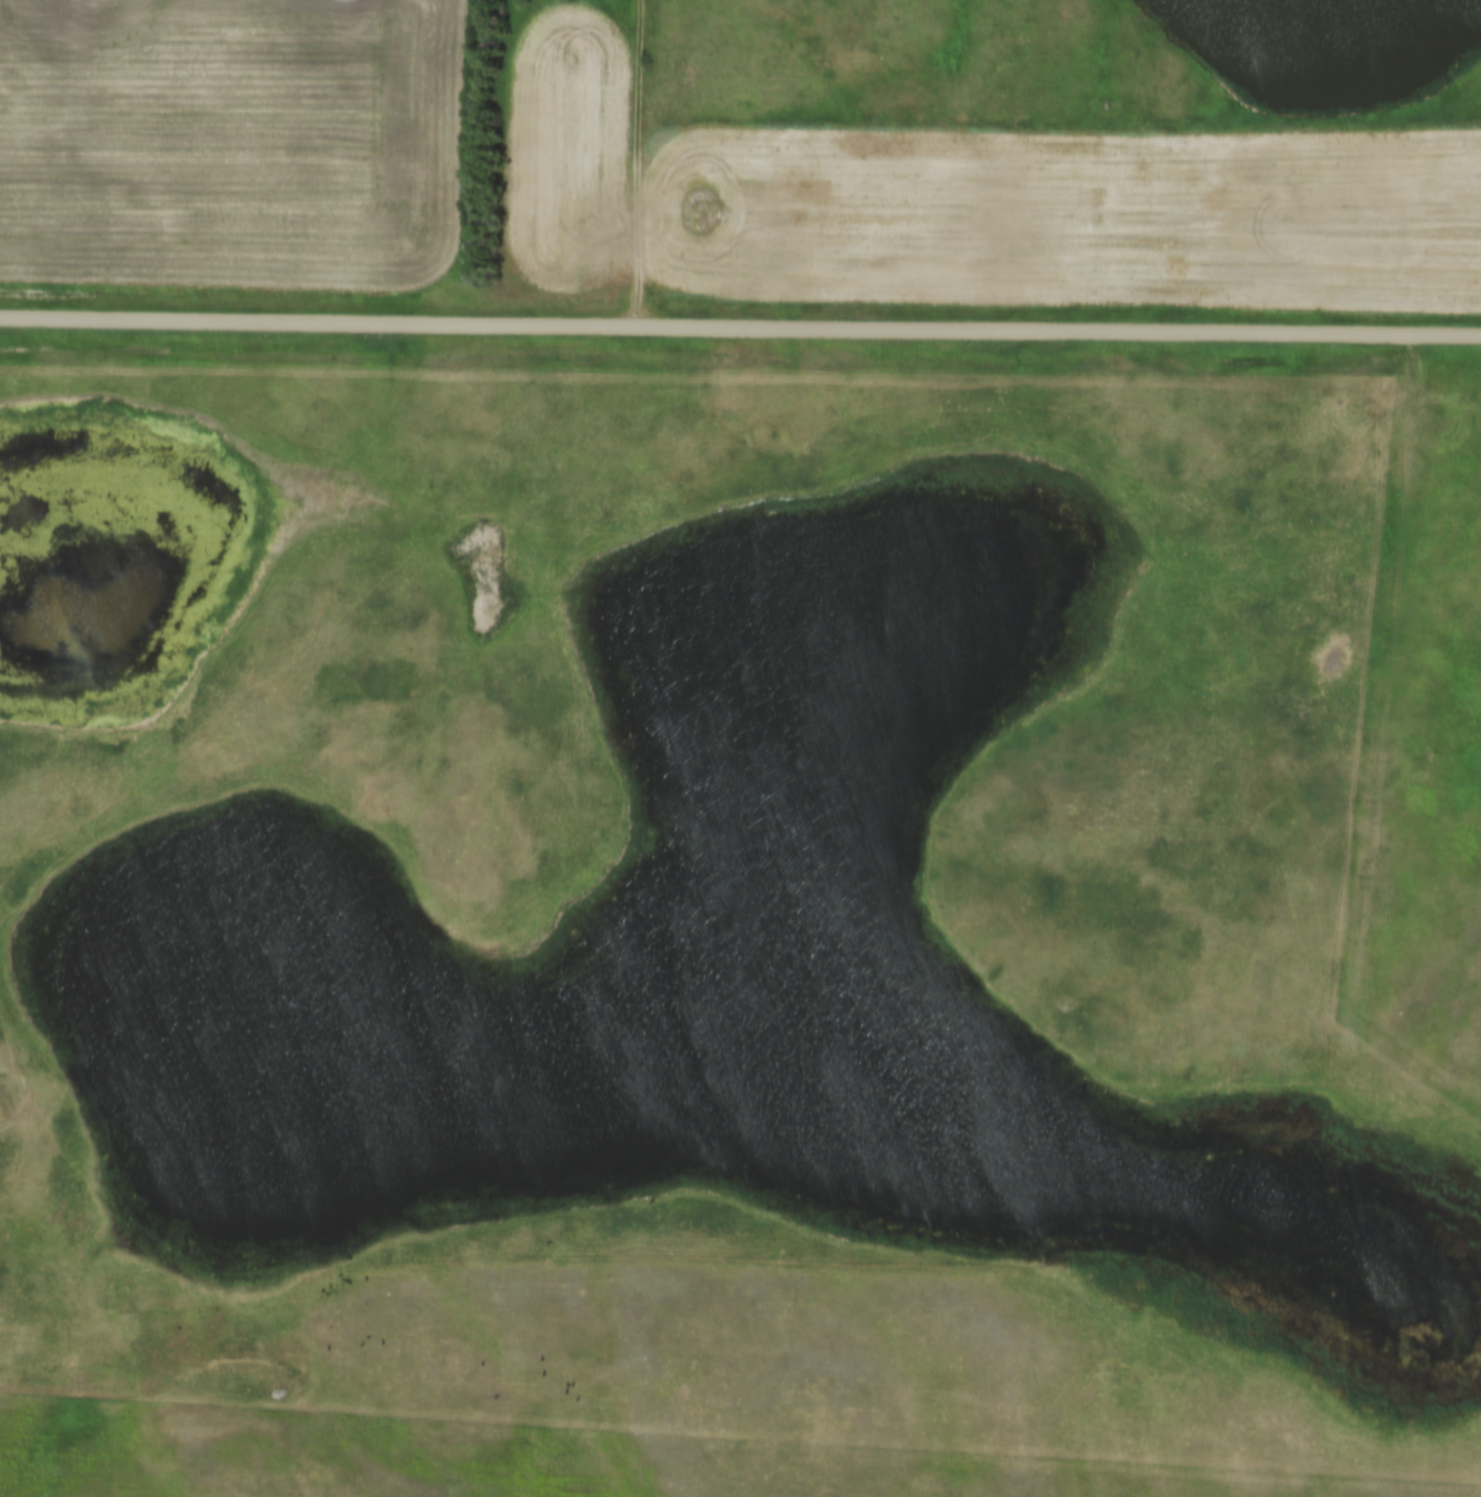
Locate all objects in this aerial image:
road: (640, 168)
road: (740, 328)

